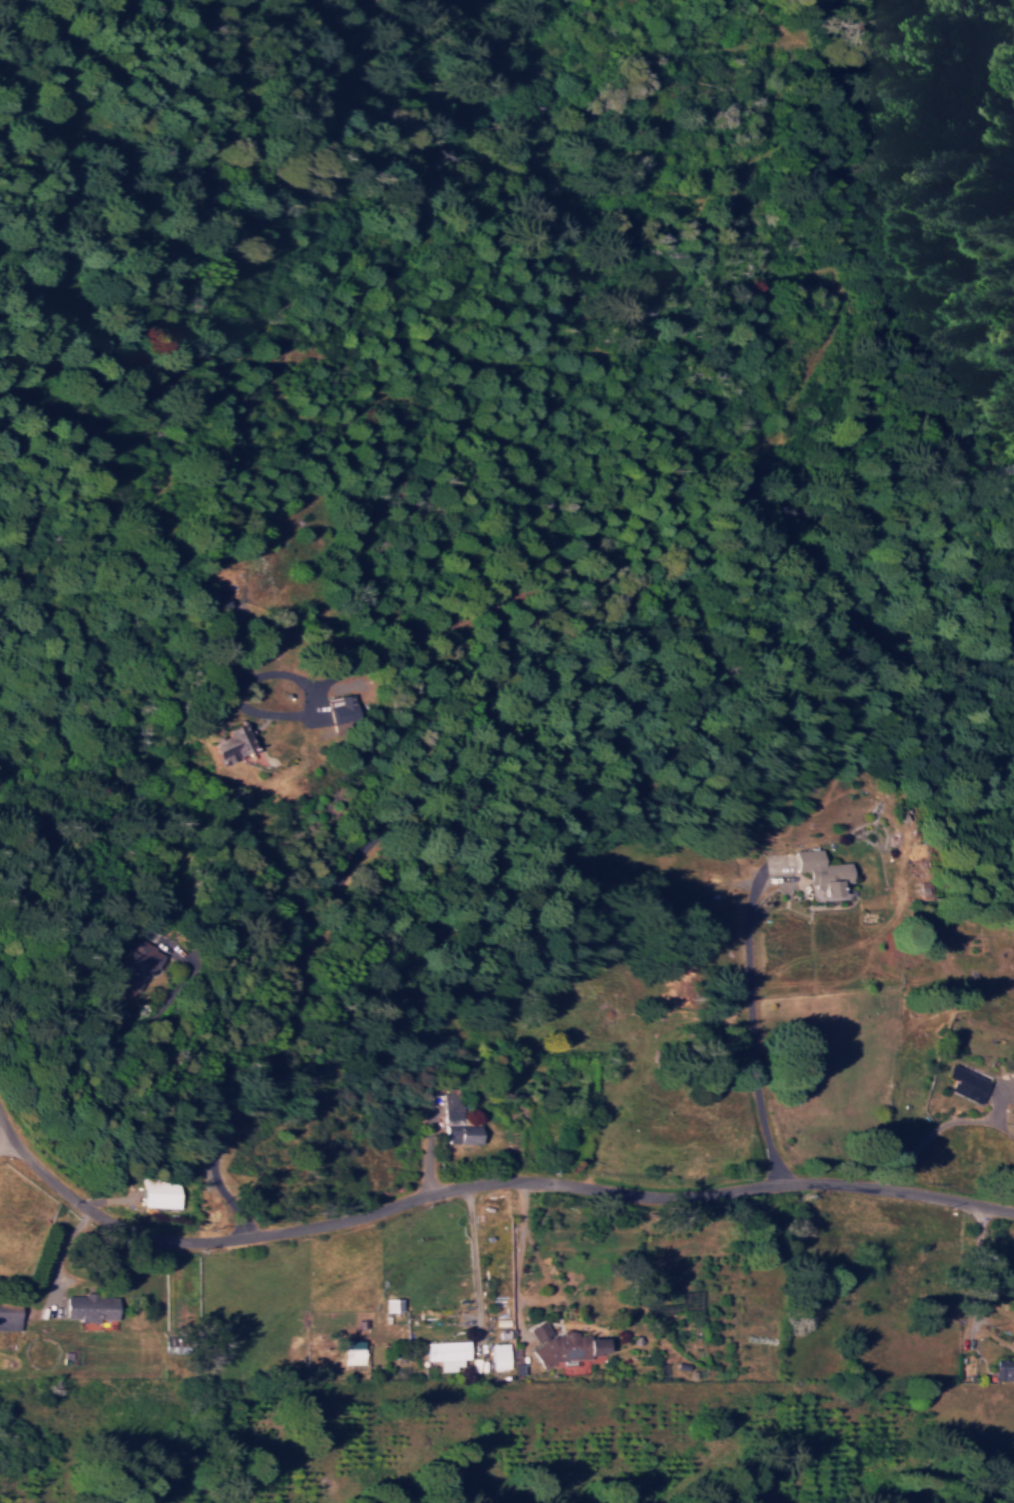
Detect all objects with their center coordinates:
building: (335, 707)
building: (226, 741)
building: (819, 870)
building: (137, 967)
building: (965, 1082)
building: (461, 1133)
road: (7, 1144)
road: (475, 1187)
building: (160, 1193)
building: (88, 1306)
building: (7, 1315)
building: (561, 1345)
building: (446, 1352)
building: (499, 1355)

